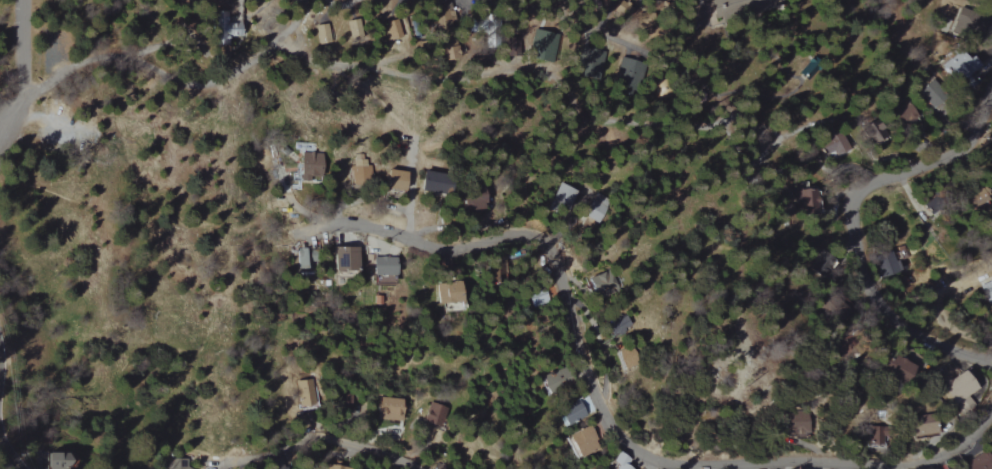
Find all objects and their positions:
building: (983, 0)
building: (741, 7)
building: (618, 8)
road: (597, 12)
building: (221, 28)
building: (352, 28)
building: (391, 29)
building: (320, 33)
road: (620, 35)
parking lot: (51, 42)
building: (540, 44)
building: (445, 50)
road: (21, 62)
building: (585, 62)
road: (51, 66)
building: (956, 70)
building: (623, 71)
road: (558, 78)
road: (203, 82)
building: (903, 112)
parking lot: (53, 117)
building: (869, 132)
building: (308, 164)
building: (360, 169)
building: (393, 180)
building: (431, 182)
road: (868, 183)
road: (728, 191)
road: (410, 195)
building: (562, 197)
building: (597, 208)
building: (342, 259)
building: (885, 265)
building: (381, 270)
building: (601, 284)
building: (445, 292)
building: (536, 297)
road: (933, 305)
building: (451, 307)
road: (947, 344)
building: (627, 358)
building: (898, 367)
building: (553, 382)
building: (957, 392)
building: (307, 393)
road: (596, 402)
building: (583, 406)
building: (389, 409)
building: (427, 413)
building: (795, 423)
building: (916, 430)
road: (321, 436)
building: (582, 442)
road: (8, 453)
building: (620, 461)
building: (979, 461)
building: (333, 466)

